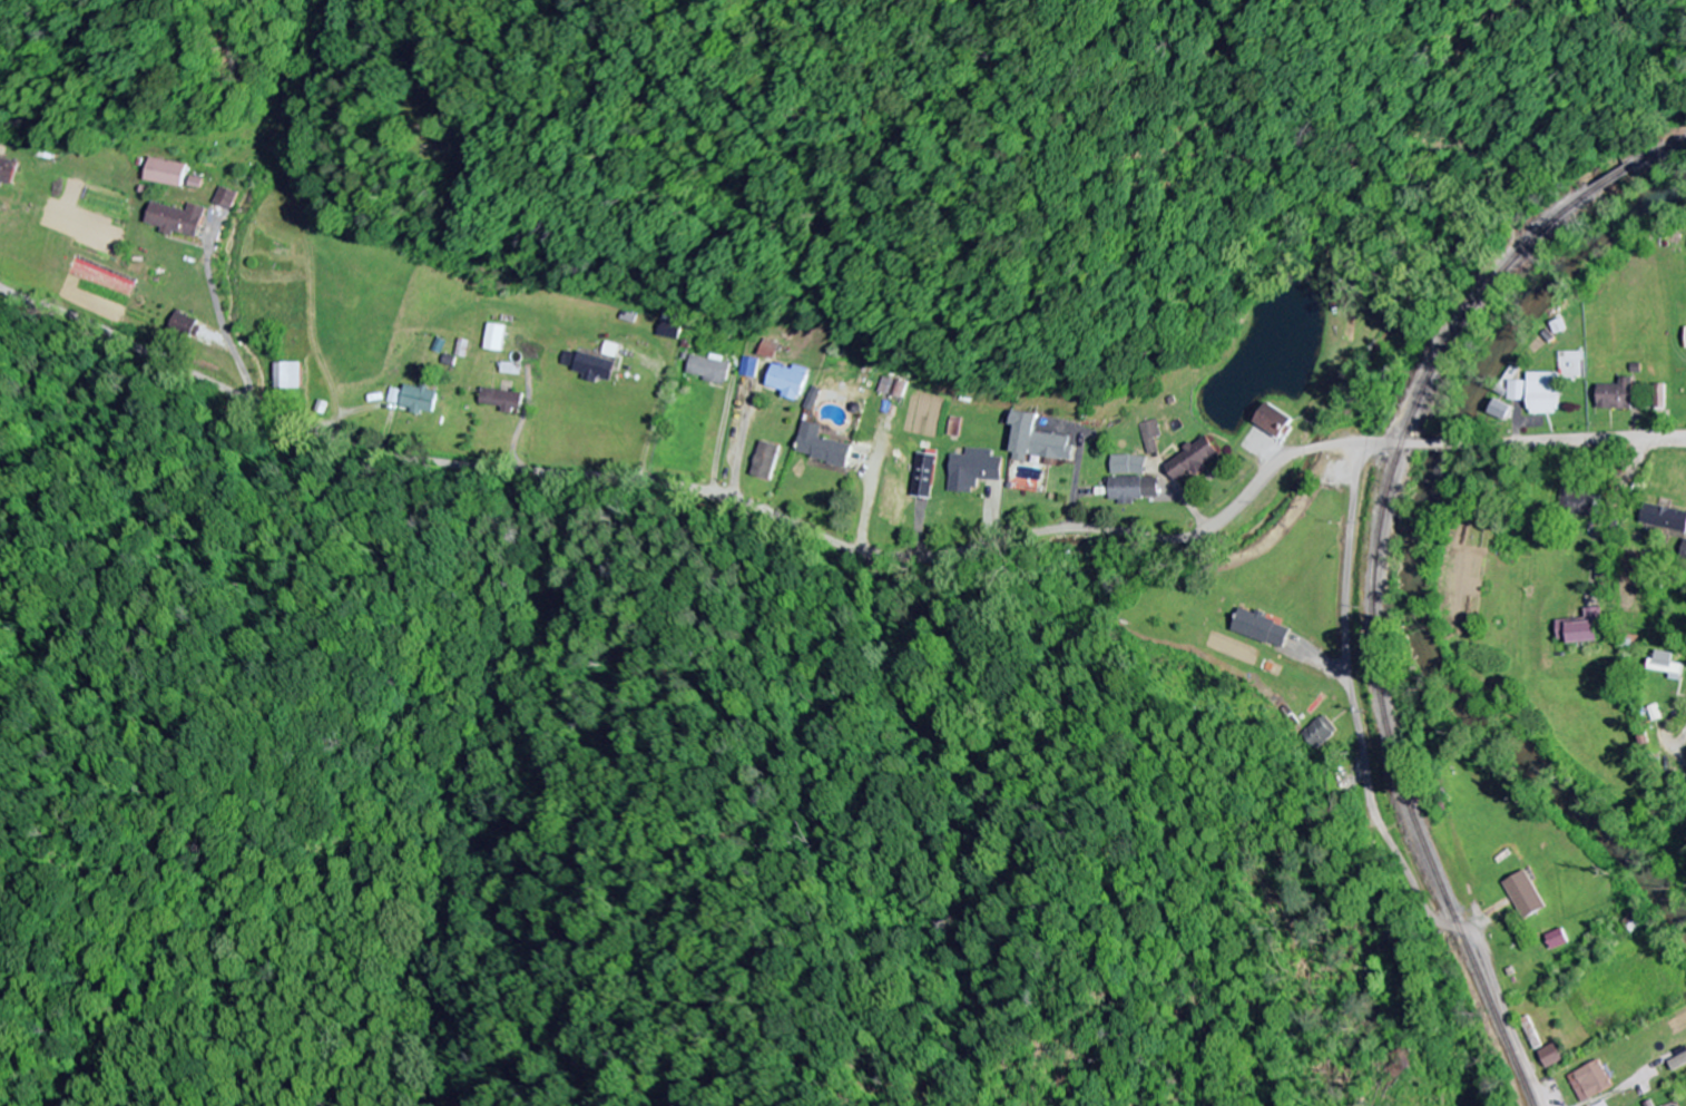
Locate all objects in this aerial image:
building: (7, 173)
building: (165, 174)
building: (226, 199)
building: (177, 221)
building: (1345, 293)
building: (185, 326)
building: (670, 327)
building: (496, 339)
building: (589, 368)
building: (749, 369)
building: (709, 371)
building: (288, 376)
building: (790, 382)
building: (1553, 385)
building: (891, 389)
building: (1519, 392)
building: (1662, 394)
building: (1618, 397)
building: (414, 400)
building: (502, 401)
building: (1501, 411)
building: (1275, 423)
building: (1150, 438)
building: (1038, 441)
road: (1570, 443)
building: (822, 448)
building: (1194, 461)
building: (766, 462)
building: (1129, 467)
building: (974, 471)
building: (924, 478)
building: (1134, 490)
road: (729, 496)
building: (1578, 503)
road: (1255, 506)
building: (1665, 520)
building: (1684, 554)
railway: (1376, 571)
building: (1584, 628)
building: (1262, 629)
building: (1667, 665)
building: (1320, 734)
road: (1372, 803)
building: (1526, 895)
building: (1558, 940)
building: (1552, 1057)
building: (1591, 1081)
building: (1599, 1105)

